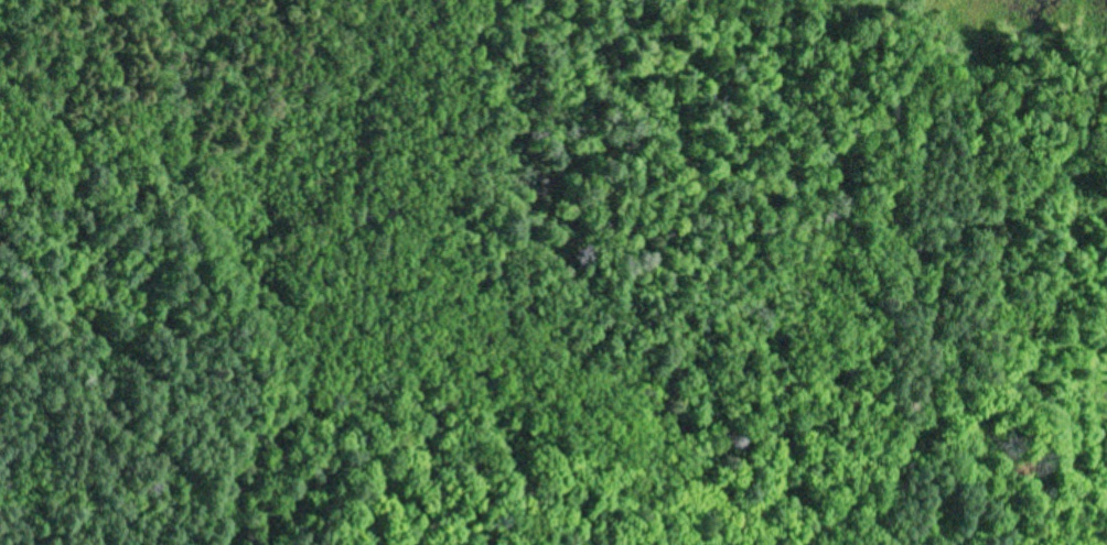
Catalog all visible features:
road: (984, 249)
road: (1018, 490)
road: (929, 524)

